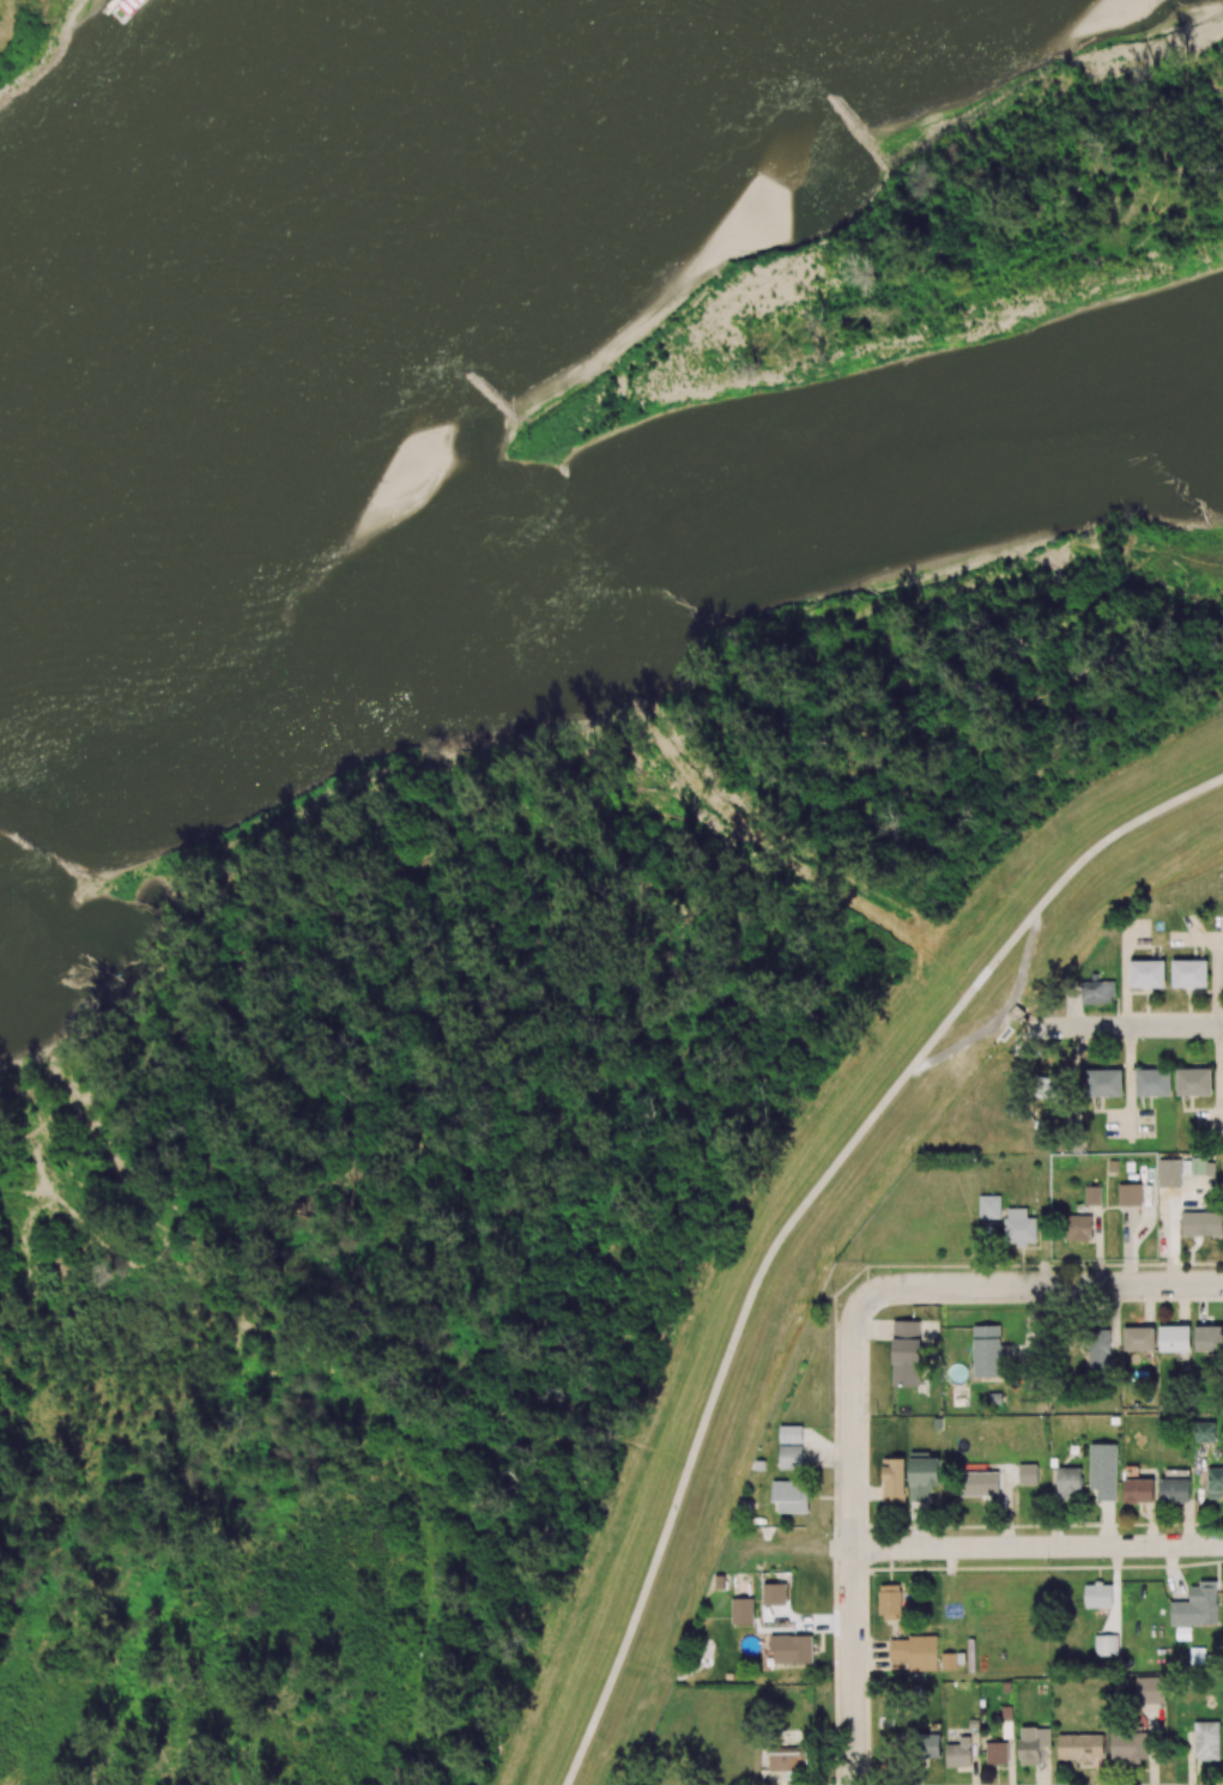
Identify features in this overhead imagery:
park: (24, 35)
river: (317, 252)
river: (605, 569)
road: (682, 707)
road: (80, 920)
building: (1189, 973)
building: (1148, 974)
building: (1097, 992)
road: (1122, 1025)
road: (127, 1076)
building: (1104, 1082)
building: (1154, 1082)
building: (1194, 1082)
building: (1048, 1089)
road: (54, 1150)
building: (1169, 1173)
road: (26, 1174)
building: (1130, 1194)
building: (1092, 1196)
building: (989, 1206)
road: (799, 1215)
building: (1201, 1223)
road: (61, 1227)
building: (1019, 1227)
building: (1077, 1227)
road: (131, 1263)
road: (46, 1266)
road: (18, 1282)
road: (1047, 1283)
road: (107, 1285)
road: (184, 1308)
road: (67, 1325)
road: (99, 1330)
building: (987, 1351)
building: (906, 1353)
road: (303, 1361)
road: (42, 1403)
road: (92, 1422)
road: (533, 1440)
building: (791, 1447)
building: (924, 1477)
building: (895, 1482)
building: (791, 1496)
road: (853, 1535)
road: (987, 1545)
road: (68, 1572)
road: (332, 1583)
building: (774, 1593)
road: (429, 1595)
building: (741, 1611)
road: (181, 1617)
building: (792, 1648)
road: (295, 1769)

